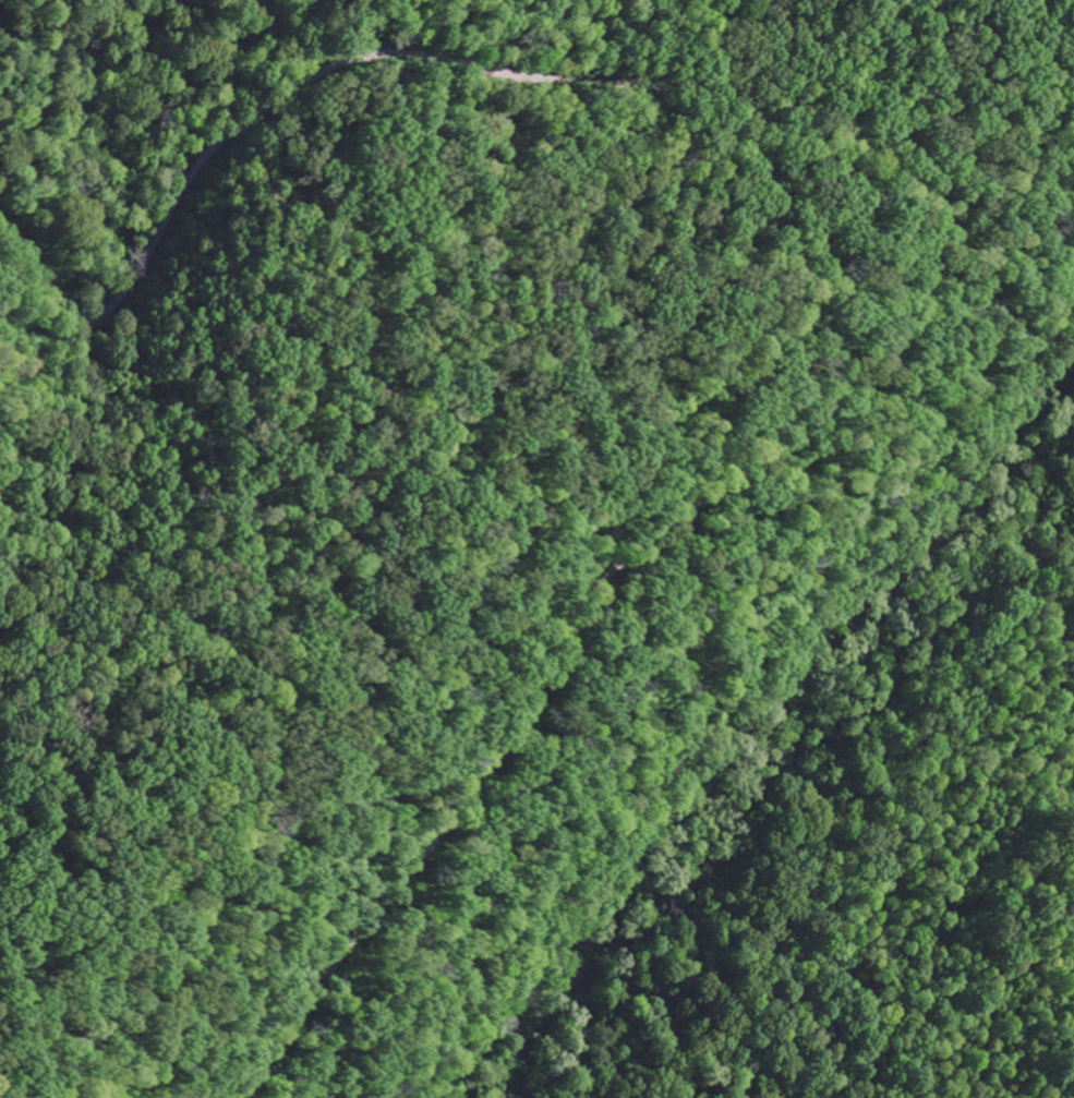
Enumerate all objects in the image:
road: (1070, 4)
road: (936, 210)
road: (699, 589)

